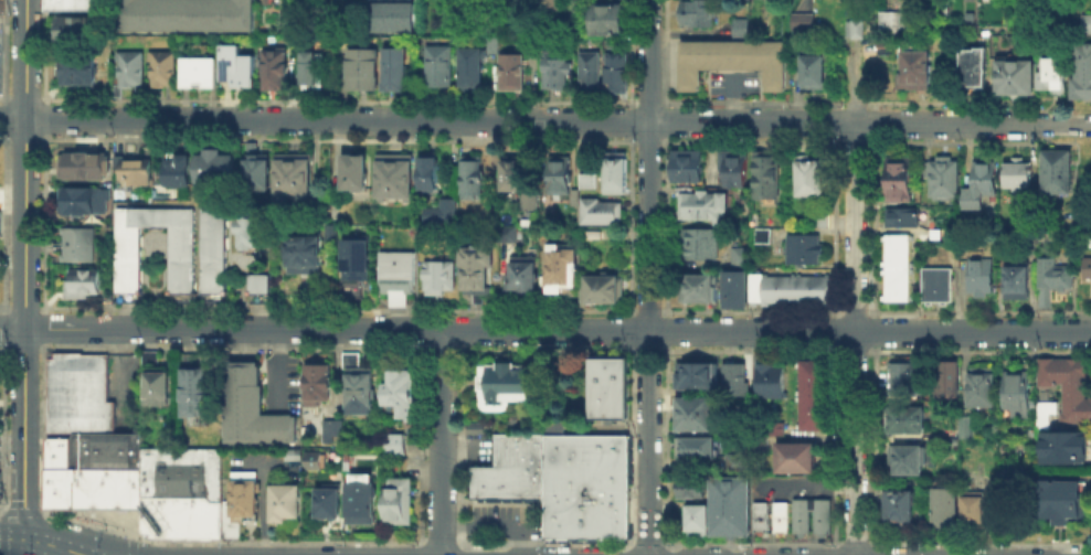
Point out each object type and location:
building: (552, 4)
building: (81, 6)
building: (695, 12)
building: (190, 15)
building: (801, 20)
building: (890, 20)
building: (395, 21)
building: (1085, 22)
building: (608, 24)
building: (739, 25)
building: (850, 28)
building: (73, 33)
building: (532, 47)
building: (496, 49)
road: (631, 53)
road: (664, 53)
road: (27, 58)
building: (731, 60)
building: (441, 66)
building: (240, 67)
building: (912, 68)
building: (277, 70)
building: (399, 70)
building: (812, 70)
building: (976, 70)
building: (166, 71)
building: (1080, 71)
building: (83, 72)
building: (133, 72)
building: (366, 72)
building: (474, 72)
building: (558, 72)
building: (513, 73)
building: (1052, 73)
building: (200, 74)
building: (315, 74)
building: (593, 75)
building: (619, 77)
building: (1017, 79)
road: (854, 83)
road: (858, 100)
road: (979, 102)
road: (870, 104)
road: (13, 118)
road: (439, 120)
road: (631, 120)
road: (664, 120)
road: (870, 121)
road: (945, 122)
road: (1064, 122)
road: (835, 128)
road: (860, 142)
road: (981, 142)
building: (685, 163)
building: (87, 167)
building: (732, 167)
building: (219, 168)
building: (1056, 170)
building: (259, 171)
building: (140, 172)
building: (181, 172)
building: (357, 174)
building: (618, 174)
building: (515, 175)
building: (764, 175)
building: (807, 175)
building: (1020, 175)
building: (431, 177)
building: (561, 177)
building: (396, 178)
building: (475, 179)
building: (897, 179)
building: (296, 180)
building: (945, 180)
building: (987, 180)
building: (591, 182)
building: (86, 203)
building: (532, 203)
building: (700, 203)
building: (602, 213)
building: (443, 214)
building: (900, 216)
building: (820, 217)
road: (1081, 218)
building: (490, 220)
road: (24, 222)
road: (629, 225)
road: (665, 225)
road: (834, 225)
road: (873, 226)
building: (251, 228)
building: (336, 234)
building: (761, 234)
building: (595, 236)
building: (699, 242)
building: (81, 246)
building: (801, 247)
building: (214, 249)
building: (738, 255)
building: (308, 256)
building: (181, 258)
building: (358, 264)
building: (896, 266)
building: (1090, 270)
building: (479, 271)
building: (564, 271)
building: (400, 277)
road: (648, 277)
building: (1057, 277)
building: (442, 278)
building: (982, 278)
building: (523, 279)
building: (258, 282)
building: (1018, 282)
building: (87, 285)
building: (698, 286)
building: (940, 287)
building: (734, 288)
building: (788, 288)
building: (606, 290)
road: (30, 307)
road: (337, 308)
road: (647, 310)
road: (421, 311)
road: (750, 311)
road: (854, 311)
road: (977, 311)
road: (462, 312)
road: (11, 327)
road: (421, 329)
road: (462, 329)
road: (557, 329)
road: (665, 329)
road: (631, 330)
road: (833, 330)
road: (873, 330)
road: (855, 338)
road: (30, 348)
road: (232, 348)
road: (441, 349)
road: (647, 349)
road: (544, 350)
road: (751, 350)
road: (854, 351)
road: (977, 351)
building: (148, 355)
building: (188, 356)
road: (277, 365)
road: (124, 373)
building: (699, 376)
building: (904, 376)
building: (316, 381)
building: (737, 382)
building: (773, 382)
building: (357, 383)
building: (949, 383)
building: (506, 384)
building: (1067, 384)
building: (157, 385)
building: (612, 388)
building: (195, 391)
building: (399, 391)
building: (76, 392)
building: (982, 392)
building: (1016, 392)
building: (811, 394)
building: (691, 399)
building: (690, 408)
building: (256, 409)
building: (691, 416)
building: (904, 418)
building: (690, 425)
building: (333, 426)
building: (474, 426)
building: (967, 427)
road: (23, 431)
road: (441, 441)
building: (393, 442)
road: (833, 444)
road: (420, 445)
road: (460, 445)
building: (582, 445)
road: (875, 446)
road: (631, 447)
road: (665, 447)
building: (696, 447)
building: (518, 449)
building: (1066, 450)
building: (293, 452)
building: (794, 455)
building: (907, 458)
building: (313, 459)
road: (266, 462)
building: (733, 462)
building: (1009, 469)
building: (93, 470)
building: (597, 474)
building: (481, 481)
building: (518, 481)
road: (807, 481)
building: (689, 487)
building: (180, 491)
building: (243, 494)
building: (361, 498)
building: (1060, 498)
building: (395, 499)
building: (555, 499)
building: (283, 500)
building: (328, 501)
building: (729, 505)
building: (898, 505)
building: (943, 505)
traffic signals: (24, 506)
road: (263, 509)
building: (972, 510)
building: (597, 512)
road: (32, 513)
building: (819, 514)
building: (760, 515)
building: (778, 515)
building: (799, 515)
building: (695, 517)
building: (227, 520)
parking lot: (502, 520)
road: (1007, 522)
road: (492, 523)
road: (12, 537)
road: (134, 538)
road: (231, 543)
road: (441, 543)
road: (51, 544)
road: (544, 544)
road: (648, 544)
road: (753, 544)
road: (701, 545)
road: (856, 545)
road: (979, 545)
road: (134, 547)
road: (733, 547)
road: (1066, 548)
road: (419, 551)
road: (701, 551)
road: (873, 551)
road: (460, 552)
road: (629, 552)
road: (671, 552)
road: (733, 553)
road: (1066, 553)
road: (77, 554)
road: (81, 554)

